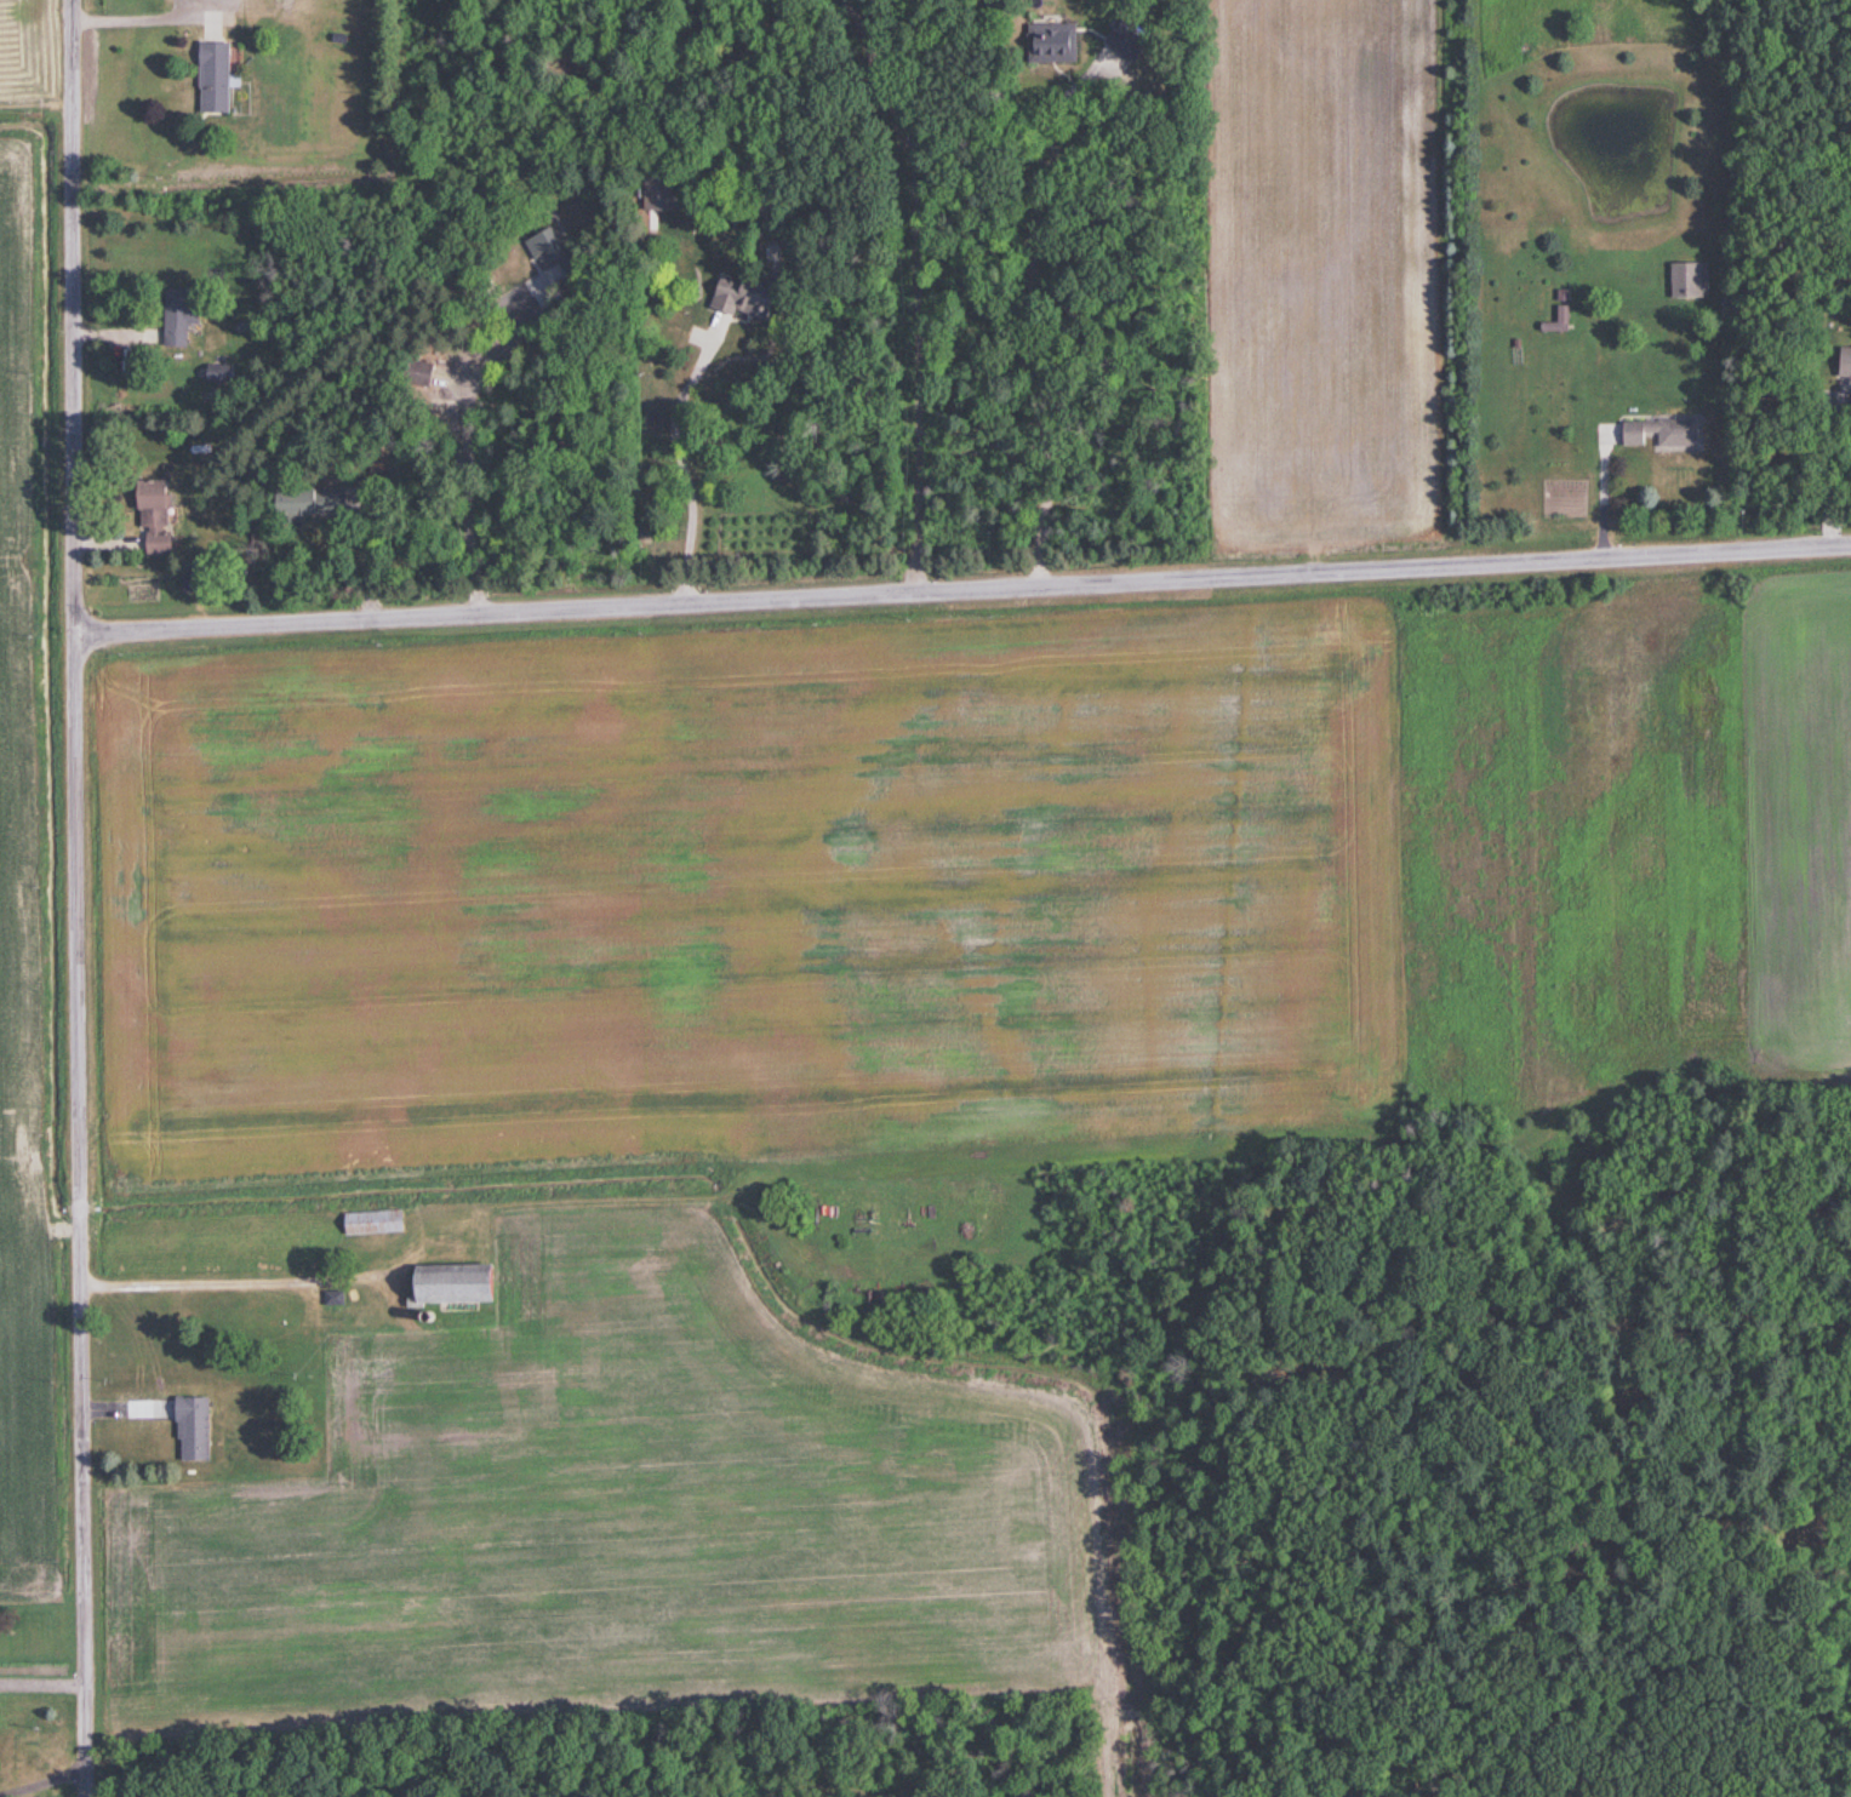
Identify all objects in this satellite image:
road: (127, 15)
building: (1049, 44)
building: (210, 76)
building: (651, 193)
road: (1033, 229)
building: (539, 247)
building: (1687, 280)
road: (909, 288)
building: (733, 296)
building: (173, 319)
building: (1558, 320)
building: (1843, 362)
building: (212, 372)
building: (412, 373)
building: (1657, 433)
road: (676, 452)
road: (462, 453)
road: (1827, 465)
road: (1601, 490)
building: (302, 503)
building: (147, 513)
road: (962, 585)
road: (72, 898)
building: (382, 1220)
road: (223, 1278)
building: (467, 1282)
building: (201, 1427)
road: (40, 1776)

